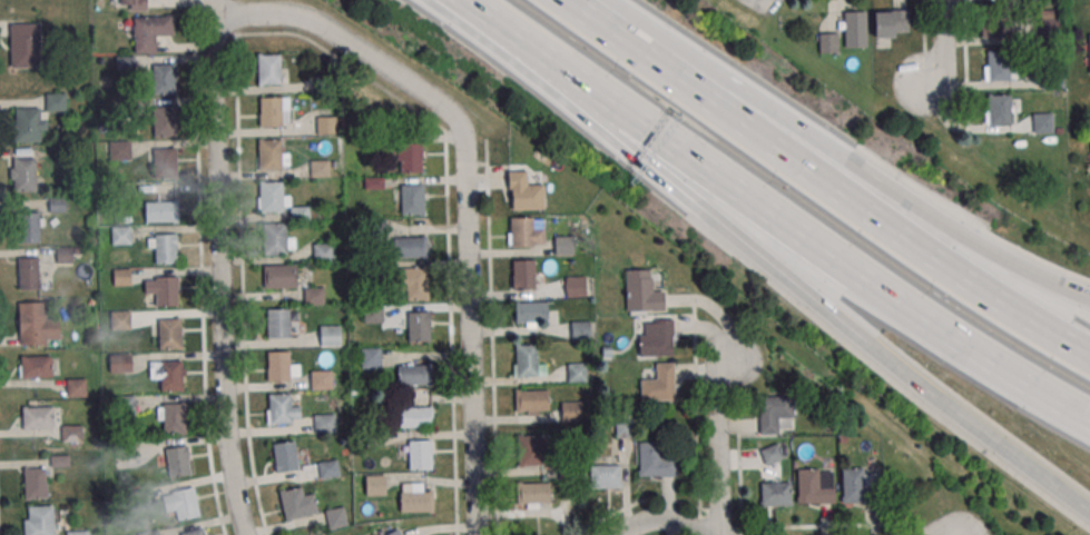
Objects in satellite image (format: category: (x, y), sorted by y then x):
building: (132, 4)
building: (1049, 22)
building: (891, 23)
building: (996, 26)
building: (854, 29)
building: (150, 32)
road: (509, 32)
road: (634, 40)
building: (827, 42)
building: (1089, 42)
road: (942, 43)
building: (24, 44)
building: (1000, 65)
building: (269, 69)
building: (165, 78)
building: (998, 109)
building: (274, 111)
building: (37, 119)
building: (165, 120)
building: (1042, 123)
building: (326, 125)
building: (120, 150)
building: (272, 155)
building: (410, 158)
building: (165, 164)
building: (320, 168)
road: (865, 170)
building: (24, 175)
building: (524, 191)
road: (463, 194)
road: (850, 197)
building: (412, 199)
building: (278, 200)
building: (161, 210)
road: (706, 211)
road: (789, 226)
building: (29, 227)
building: (526, 231)
building: (121, 235)
building: (278, 238)
building: (563, 245)
building: (411, 247)
building: (164, 248)
building: (323, 251)
road: (219, 268)
building: (28, 273)
building: (523, 275)
building: (281, 276)
building: (414, 284)
road: (1057, 284)
building: (576, 286)
building: (163, 289)
building: (641, 291)
building: (314, 296)
building: (530, 314)
building: (120, 319)
building: (278, 324)
building: (37, 325)
building: (420, 327)
building: (579, 329)
road: (1048, 330)
building: (169, 333)
building: (330, 336)
building: (655, 338)
building: (371, 357)
building: (528, 361)
building: (120, 363)
building: (36, 366)
building: (282, 366)
building: (577, 373)
building: (168, 374)
building: (414, 374)
building: (321, 379)
building: (658, 383)
building: (77, 387)
building: (531, 402)
road: (1057, 403)
building: (282, 409)
building: (571, 412)
building: (776, 413)
building: (415, 416)
building: (38, 417)
building: (171, 417)
road: (963, 418)
building: (324, 423)
building: (625, 428)
building: (72, 433)
road: (717, 439)
building: (532, 449)
building: (420, 454)
building: (772, 454)
building: (285, 456)
building: (657, 458)
building: (178, 460)
building: (328, 468)
building: (605, 476)
building: (35, 483)
building: (375, 485)
building: (858, 485)
building: (815, 486)
building: (775, 494)
building: (533, 495)
building: (416, 498)
road: (1074, 501)
building: (181, 503)
building: (297, 503)
building: (336, 517)
building: (39, 519)
road: (654, 523)
building: (195, 532)
building: (77, 533)
building: (150, 533)
building: (394, 533)

